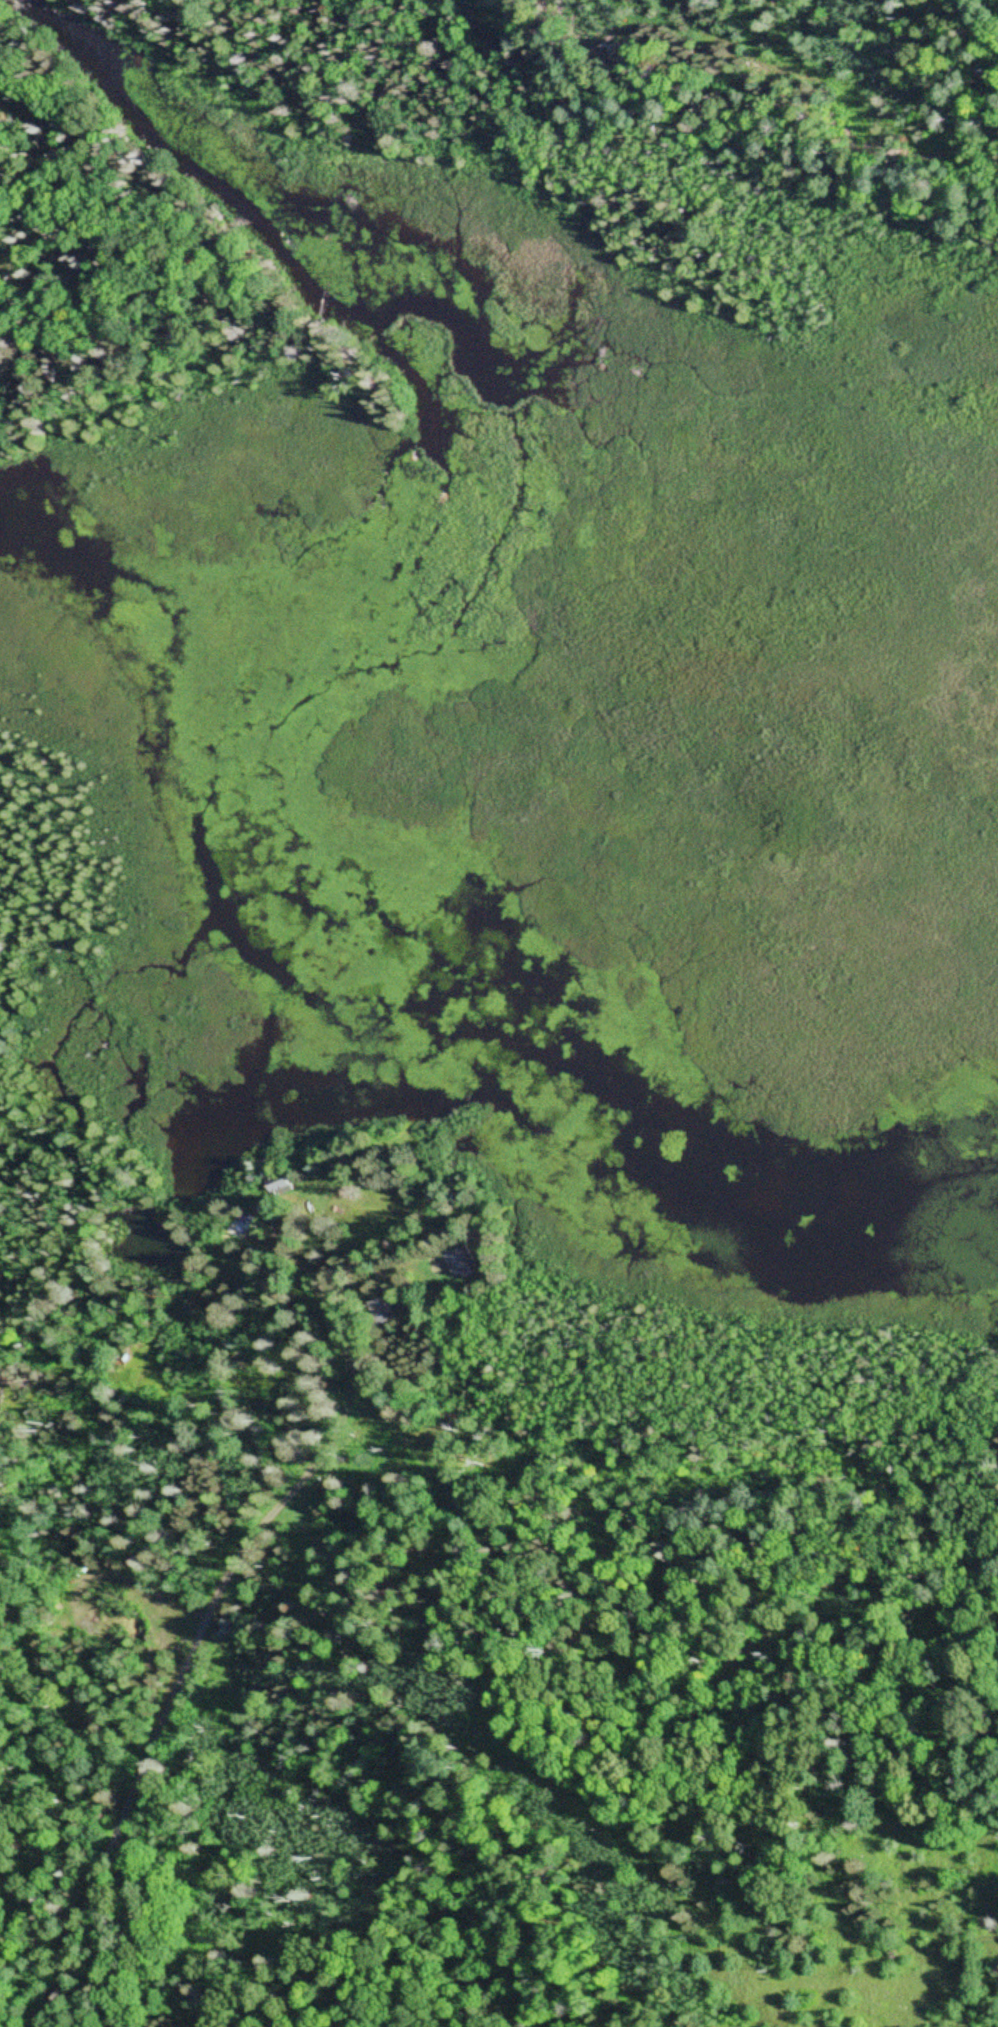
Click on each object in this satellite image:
river: (44, 15)
building: (383, 1308)

